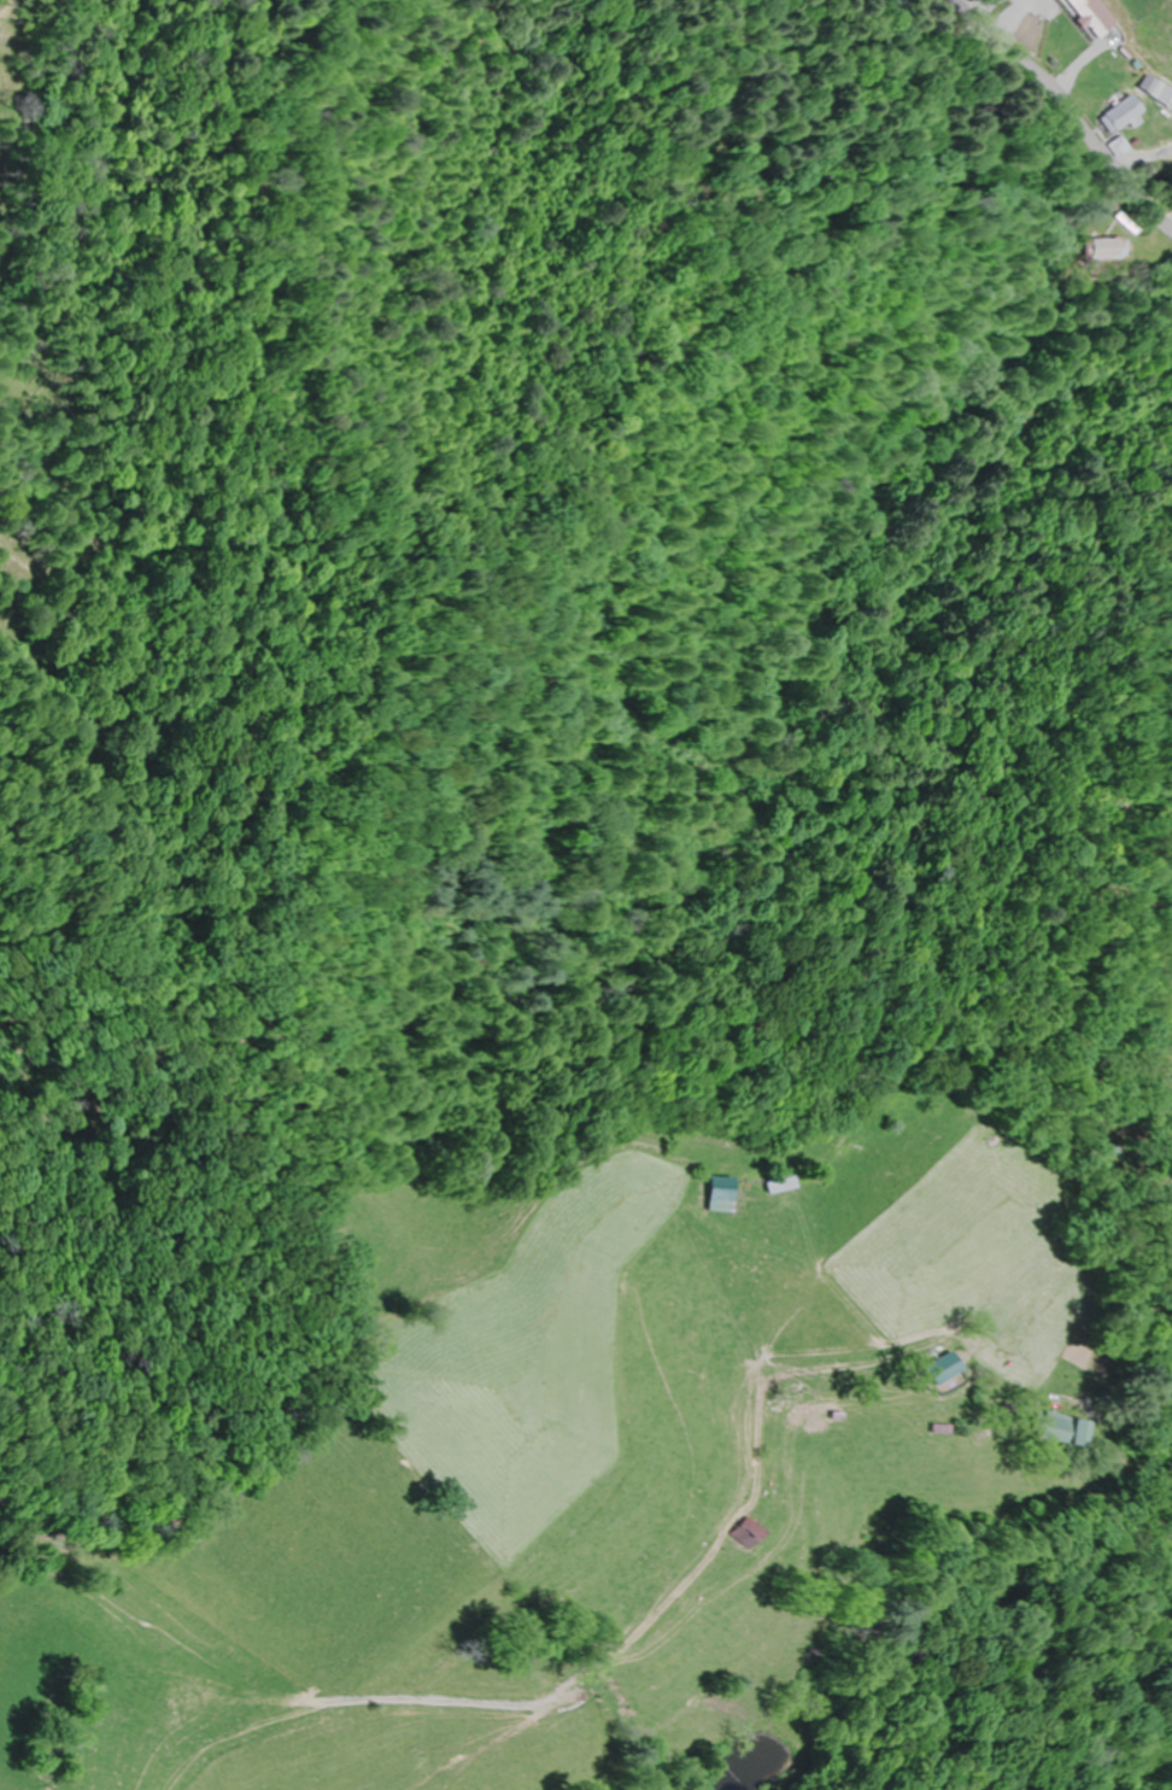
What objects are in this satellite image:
road: (994, 14)
road: (1065, 104)

